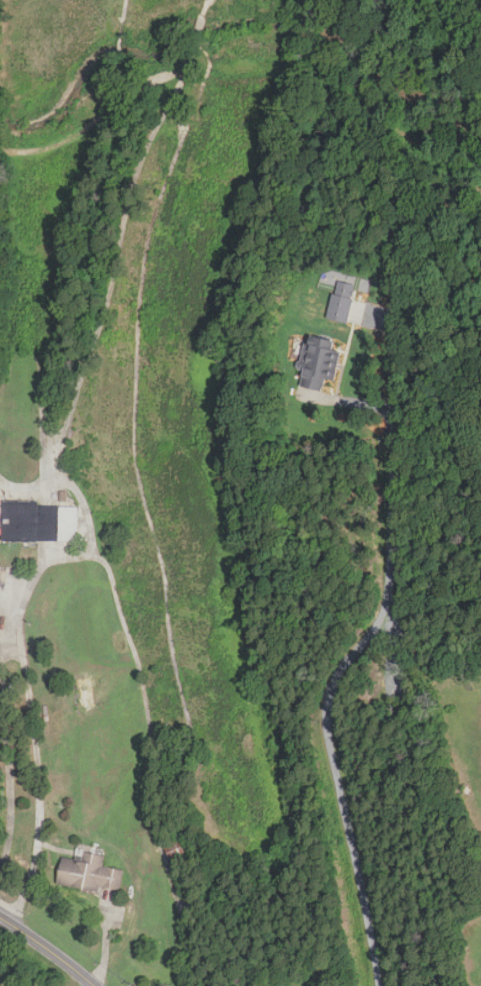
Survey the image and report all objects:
building: (342, 301)
building: (319, 362)
road: (410, 365)
building: (39, 522)
road: (23, 659)
road: (341, 665)
building: (90, 873)
road: (49, 948)
road: (106, 949)
building: (1, 983)

